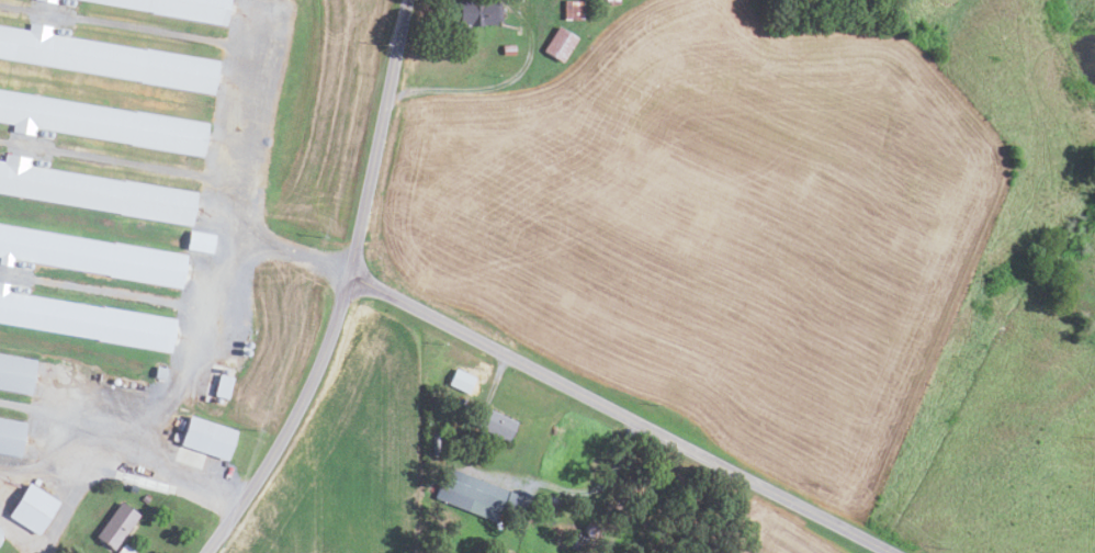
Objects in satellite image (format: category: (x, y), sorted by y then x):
building: (45, 1)
building: (609, 1)
building: (176, 8)
building: (574, 9)
building: (477, 11)
building: (560, 44)
building: (509, 49)
building: (106, 58)
road: (496, 86)
crop: (336, 116)
building: (101, 123)
road: (377, 137)
building: (95, 192)
crop: (716, 226)
building: (199, 240)
building: (90, 253)
building: (86, 320)
road: (189, 328)
building: (160, 372)
building: (16, 374)
building: (221, 386)
building: (462, 400)
road: (621, 415)
road: (291, 421)
building: (494, 422)
building: (11, 436)
building: (207, 437)
building: (434, 444)
crop: (350, 454)
road: (81, 474)
building: (429, 479)
road: (589, 489)
building: (476, 495)
building: (145, 499)
building: (33, 509)
building: (116, 526)
building: (591, 531)
silo: (591, 531)
crop: (789, 534)
building: (579, 542)
building: (125, 550)

